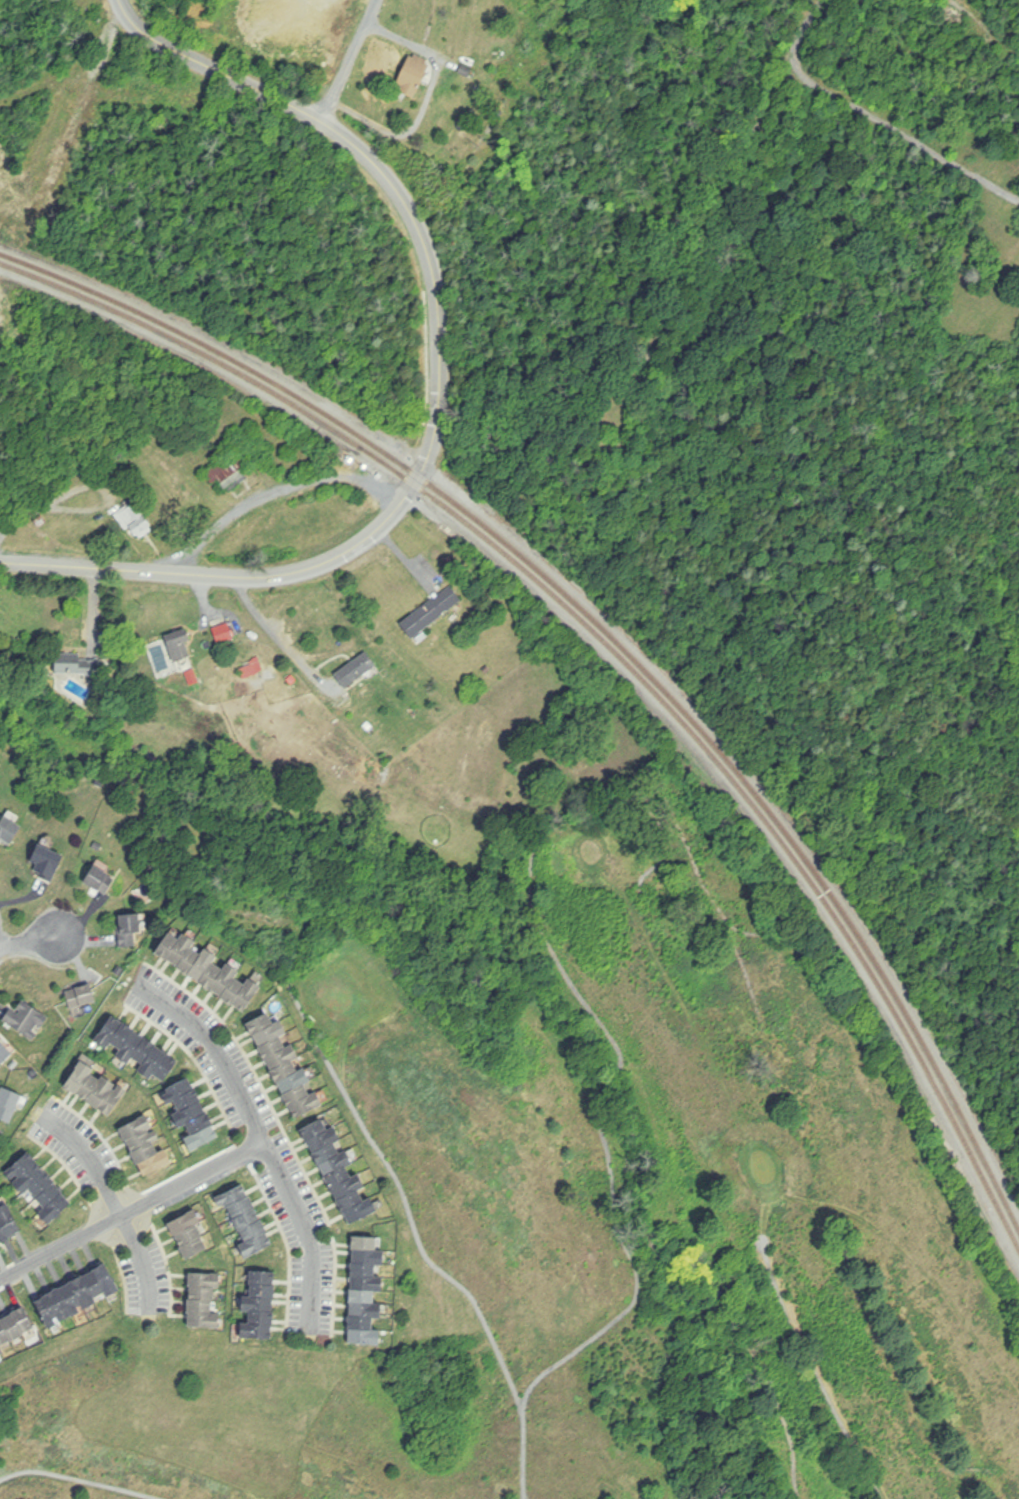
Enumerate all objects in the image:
road: (810, 19)
road: (349, 60)
building: (415, 78)
road: (894, 128)
road: (441, 389)
building: (232, 469)
road: (277, 490)
building: (135, 520)
building: (433, 611)
railway: (610, 632)
building: (225, 634)
building: (181, 644)
railway: (612, 645)
building: (78, 664)
building: (357, 670)
building: (9, 830)
building: (46, 866)
building: (101, 879)
building: (131, 929)
road: (31, 942)
building: (212, 972)
building: (82, 996)
building: (27, 1019)
building: (140, 1049)
building: (5, 1053)
road: (217, 1053)
building: (287, 1065)
building: (97, 1089)
building: (10, 1104)
building: (193, 1115)
building: (146, 1146)
road: (92, 1154)
building: (340, 1171)
building: (40, 1185)
park: (608, 1196)
road: (133, 1209)
building: (247, 1219)
building: (8, 1224)
building: (189, 1233)
road: (310, 1235)
road: (144, 1264)
building: (367, 1291)
building: (79, 1294)
building: (204, 1300)
building: (261, 1303)
building: (16, 1326)

